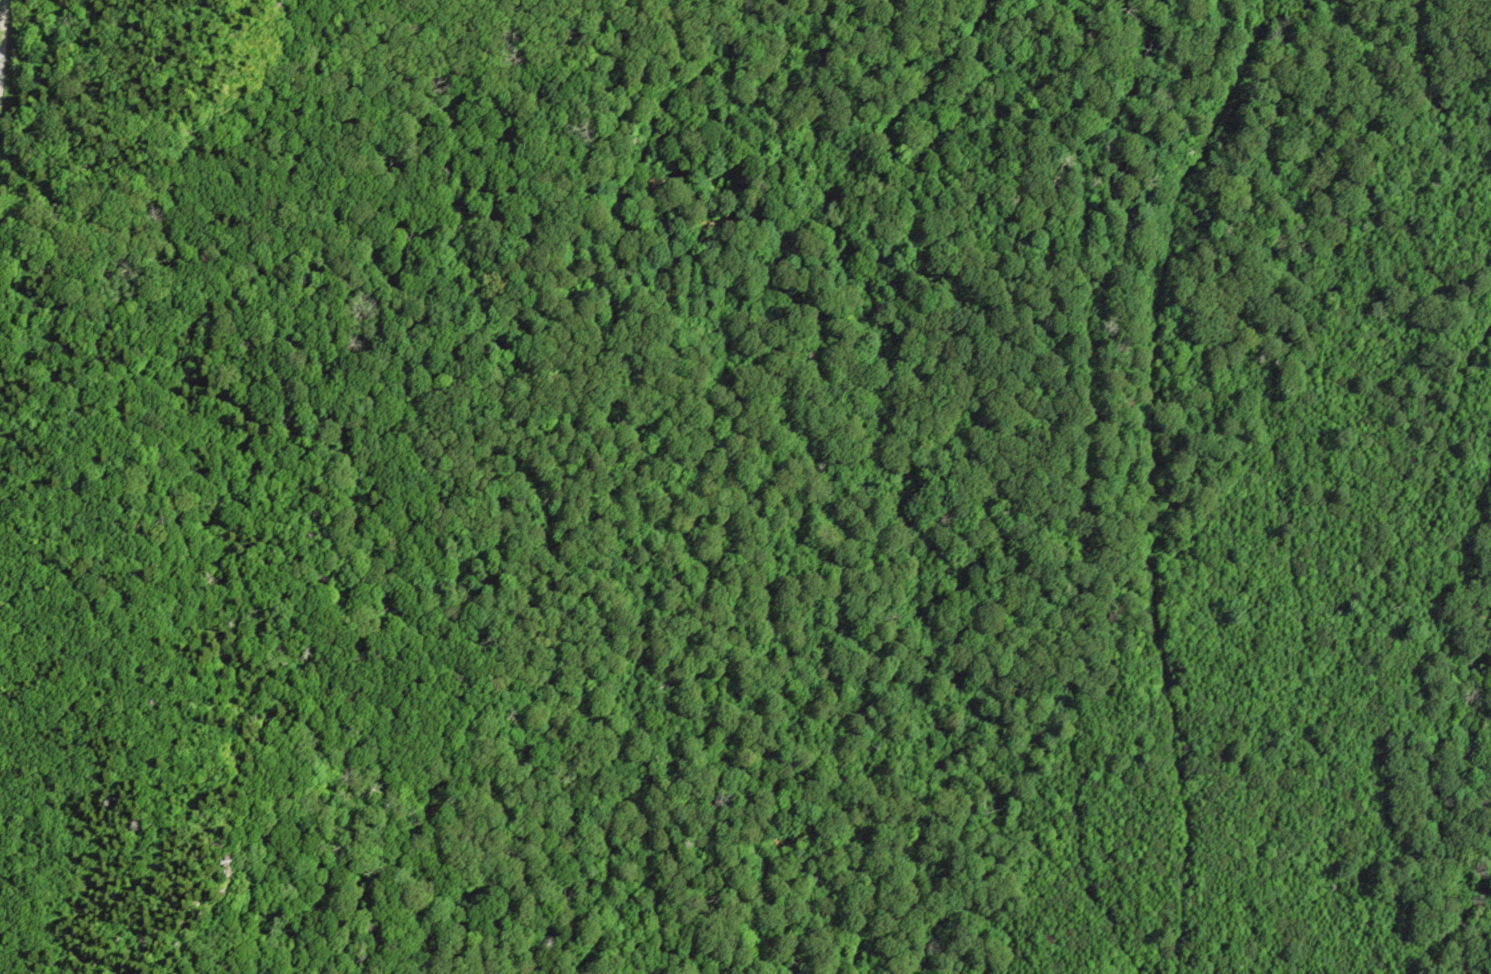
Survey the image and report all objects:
road: (3, 43)

